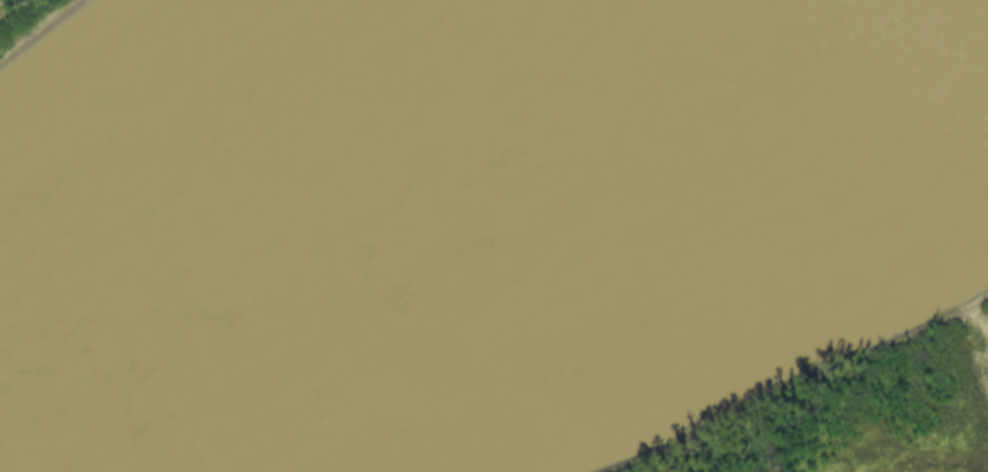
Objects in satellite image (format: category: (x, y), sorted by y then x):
river: (250, 196)
road: (984, 317)

